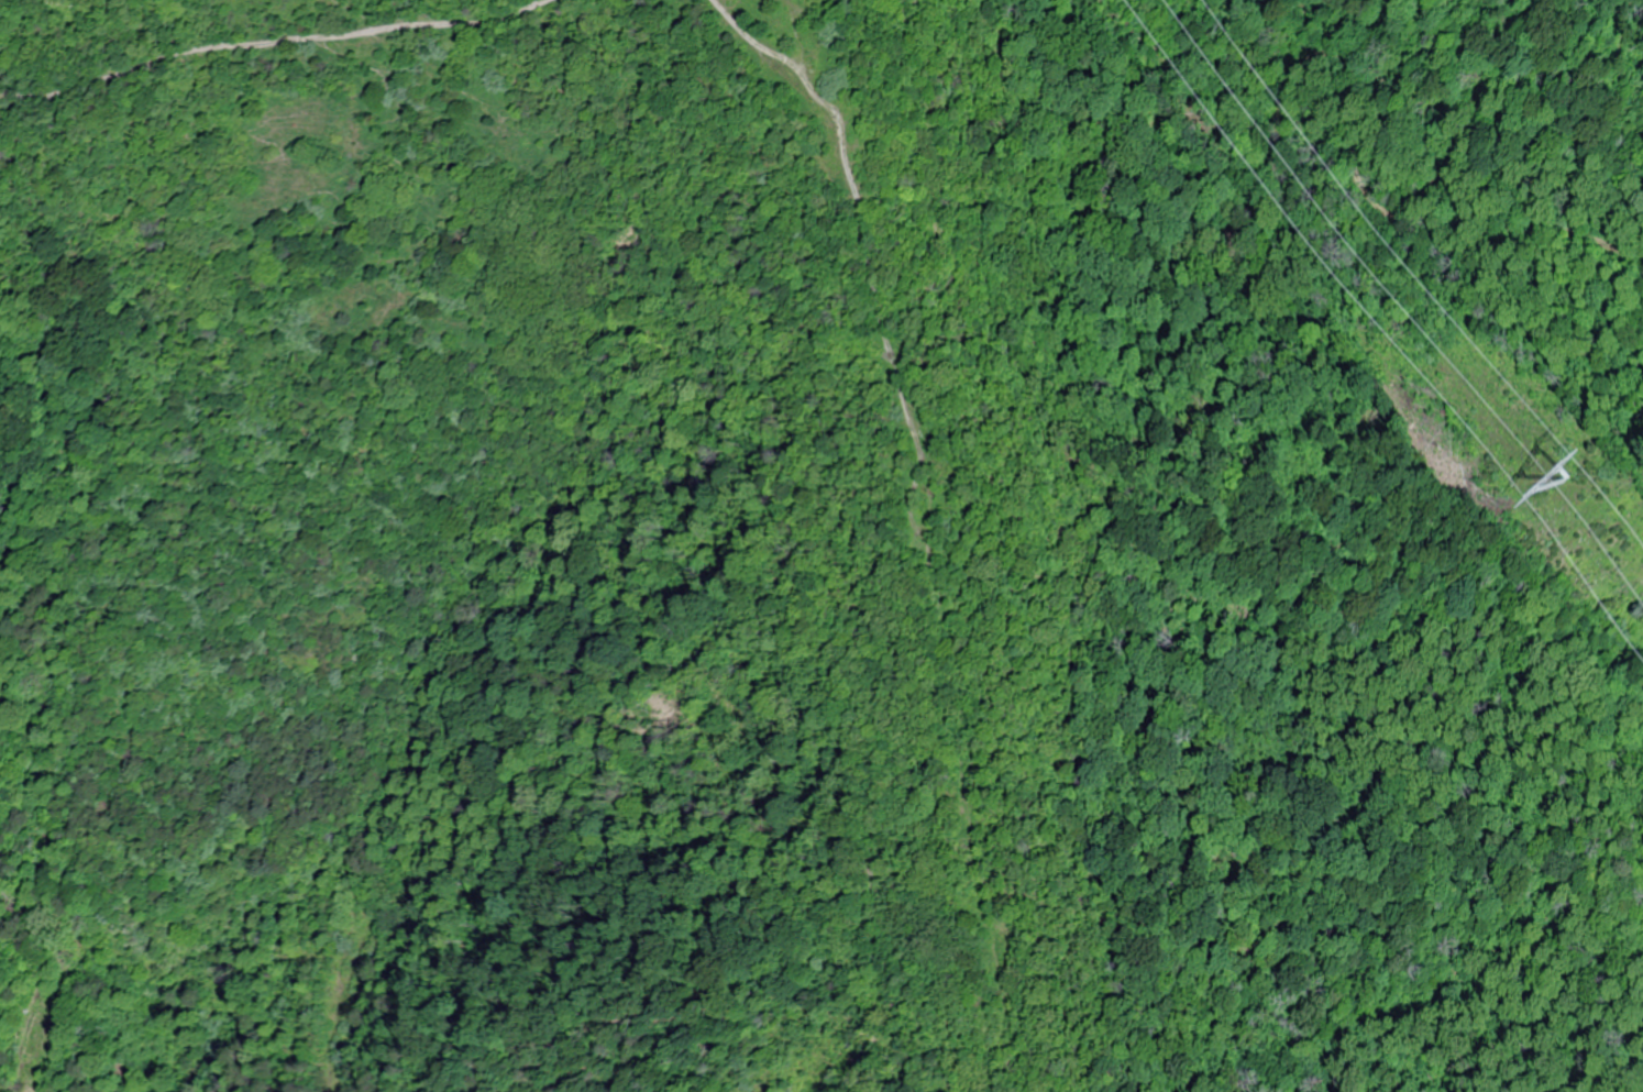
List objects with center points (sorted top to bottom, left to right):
power tower: (1553, 489)
road: (935, 542)
road: (589, 763)

